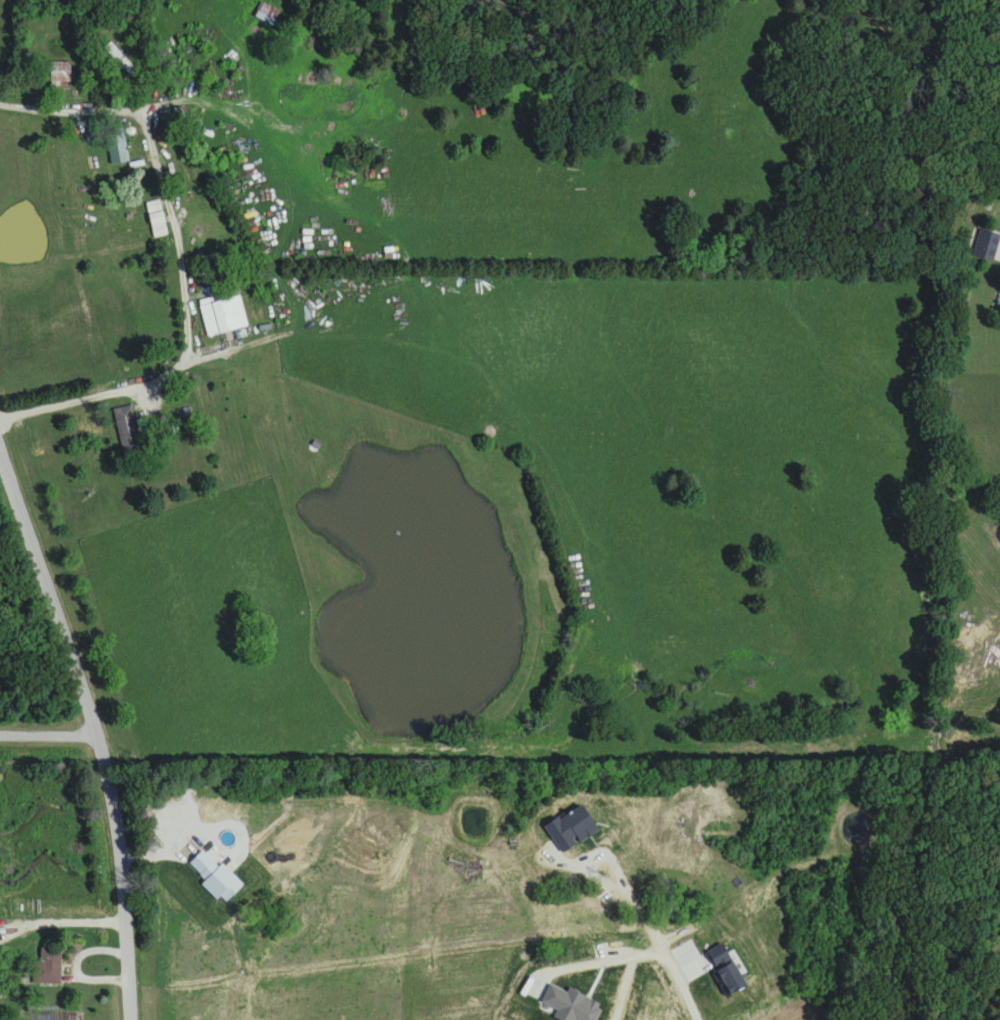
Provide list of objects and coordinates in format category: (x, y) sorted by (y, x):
building: (119, 58)
building: (60, 75)
building: (117, 147)
building: (157, 220)
building: (987, 247)
road: (184, 260)
building: (224, 316)
building: (128, 430)
road: (94, 723)
road: (47, 724)
road: (62, 924)
road: (43, 961)
building: (48, 967)
road: (680, 982)

